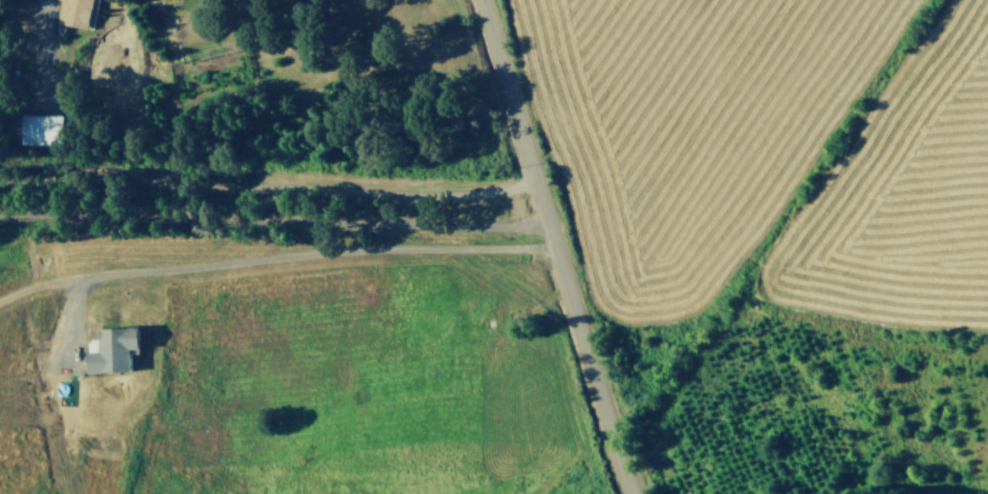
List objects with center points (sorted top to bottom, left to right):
building: (73, 12)
road: (39, 41)
building: (40, 127)
crop: (745, 160)
road: (266, 183)
road: (273, 218)
road: (554, 247)
road: (282, 249)
building: (108, 348)

